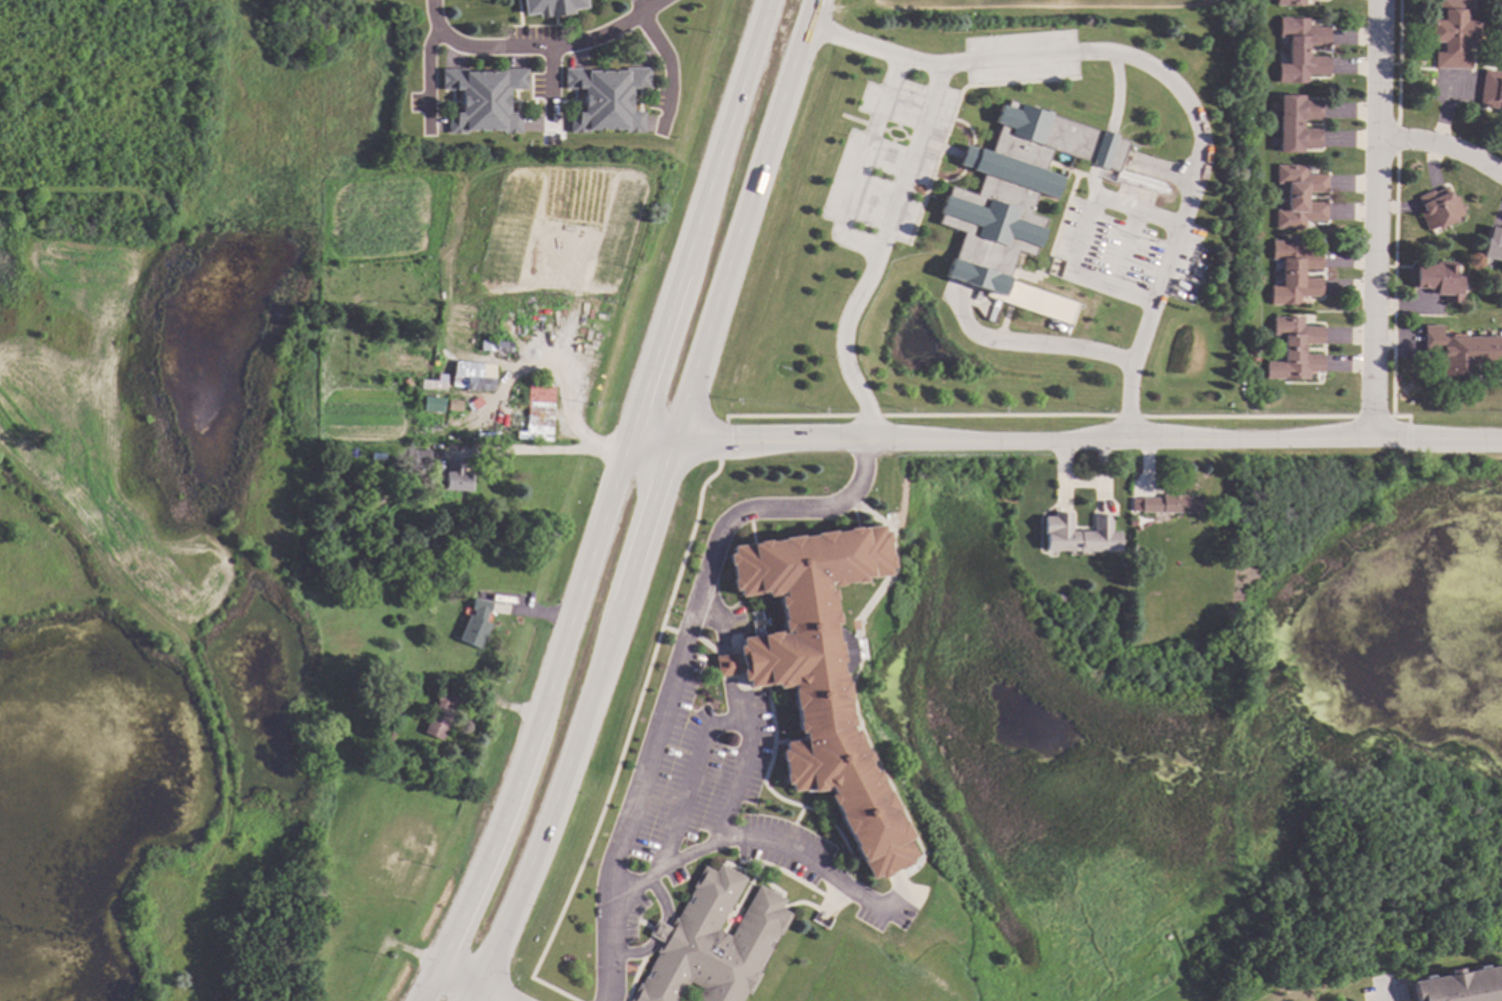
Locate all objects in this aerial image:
building: (1499, 0)
building: (1289, 2)
building: (549, 6)
crop: (1039, 7)
building: (1452, 33)
road: (536, 46)
road: (872, 48)
building: (1301, 50)
road: (670, 66)
road: (428, 75)
road: (551, 87)
building: (1490, 89)
building: (605, 98)
building: (482, 99)
road: (1445, 100)
building: (1297, 124)
road: (1199, 144)
road: (1446, 146)
building: (1013, 190)
building: (1299, 197)
building: (1438, 209)
road: (1380, 219)
crop: (494, 222)
road: (1082, 237)
building: (1493, 245)
road: (862, 246)
building: (1295, 273)
building: (1440, 280)
road: (843, 341)
road: (1032, 348)
building: (501, 349)
building: (1296, 350)
building: (1461, 352)
building: (476, 379)
building: (436, 385)
building: (429, 404)
building: (453, 406)
building: (473, 406)
building: (537, 412)
road: (573, 421)
crop: (95, 422)
road: (1063, 438)
road: (537, 453)
building: (389, 471)
building: (455, 476)
road: (649, 504)
road: (606, 505)
building: (1165, 505)
building: (1080, 535)
building: (417, 596)
building: (1061, 598)
building: (475, 624)
road: (720, 625)
building: (1143, 641)
road: (677, 664)
road: (727, 668)
building: (816, 674)
building: (439, 715)
building: (392, 735)
road: (687, 787)
road: (725, 816)
road: (801, 856)
road: (662, 901)
road: (658, 935)
building: (712, 942)
road: (634, 956)
road: (470, 983)
building: (1461, 986)

